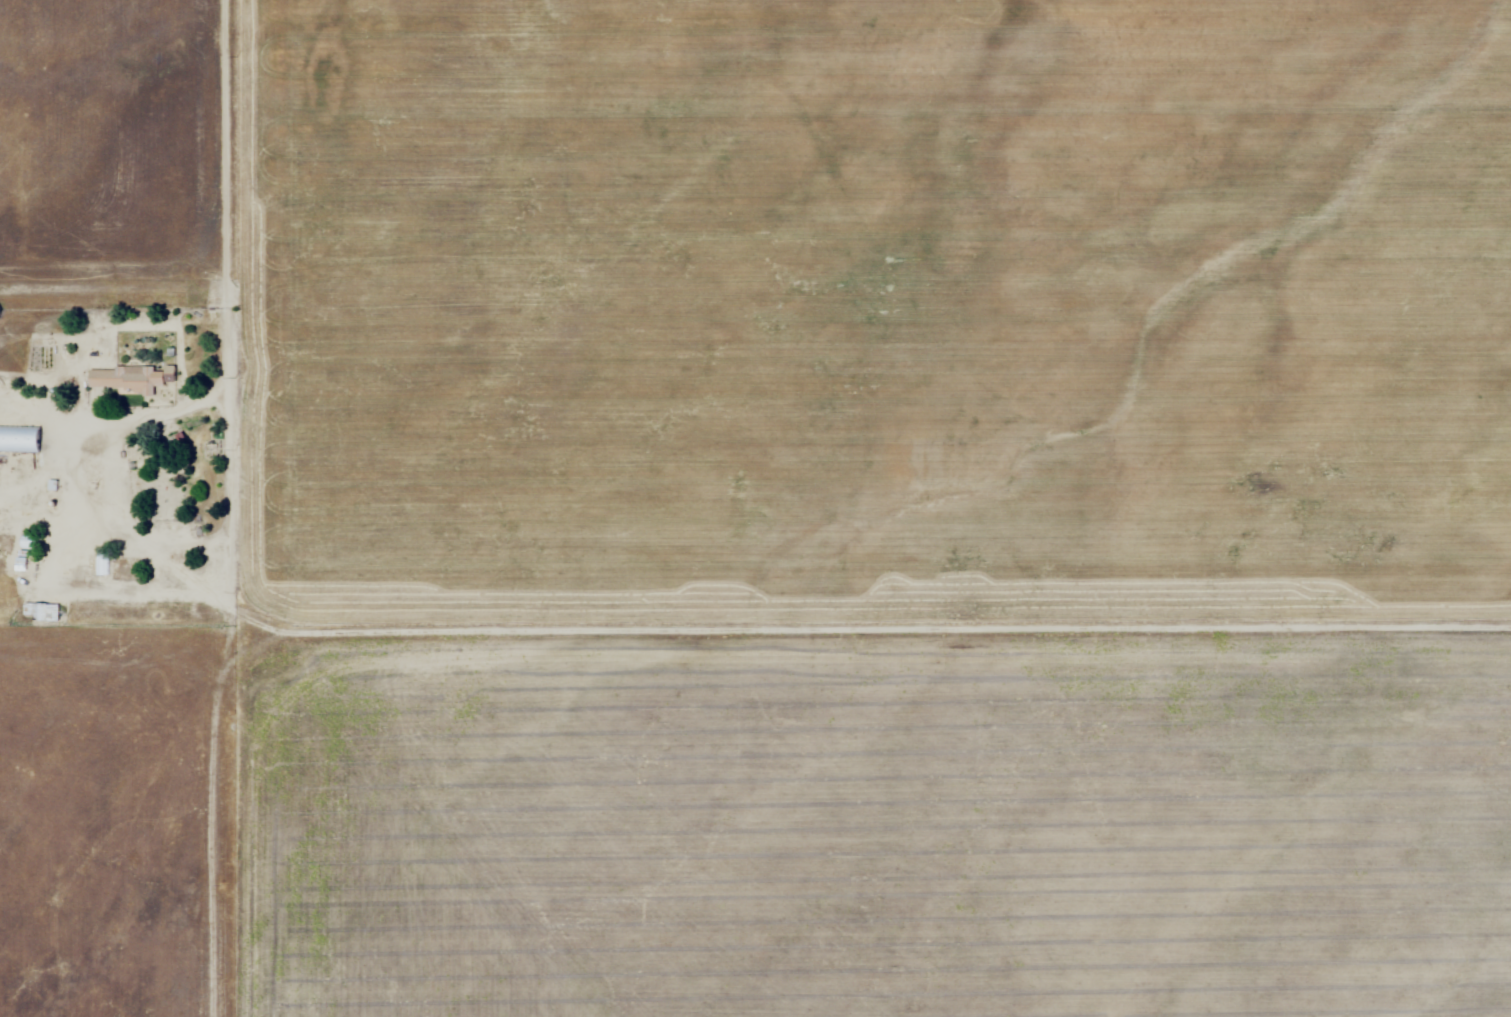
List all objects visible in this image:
road: (223, 257)
building: (136, 382)
building: (21, 441)
storage tank: (2, 477)
building: (56, 487)
storage tank: (54, 505)
building: (38, 543)
building: (105, 563)
building: (45, 613)
road: (870, 629)
road: (226, 653)

